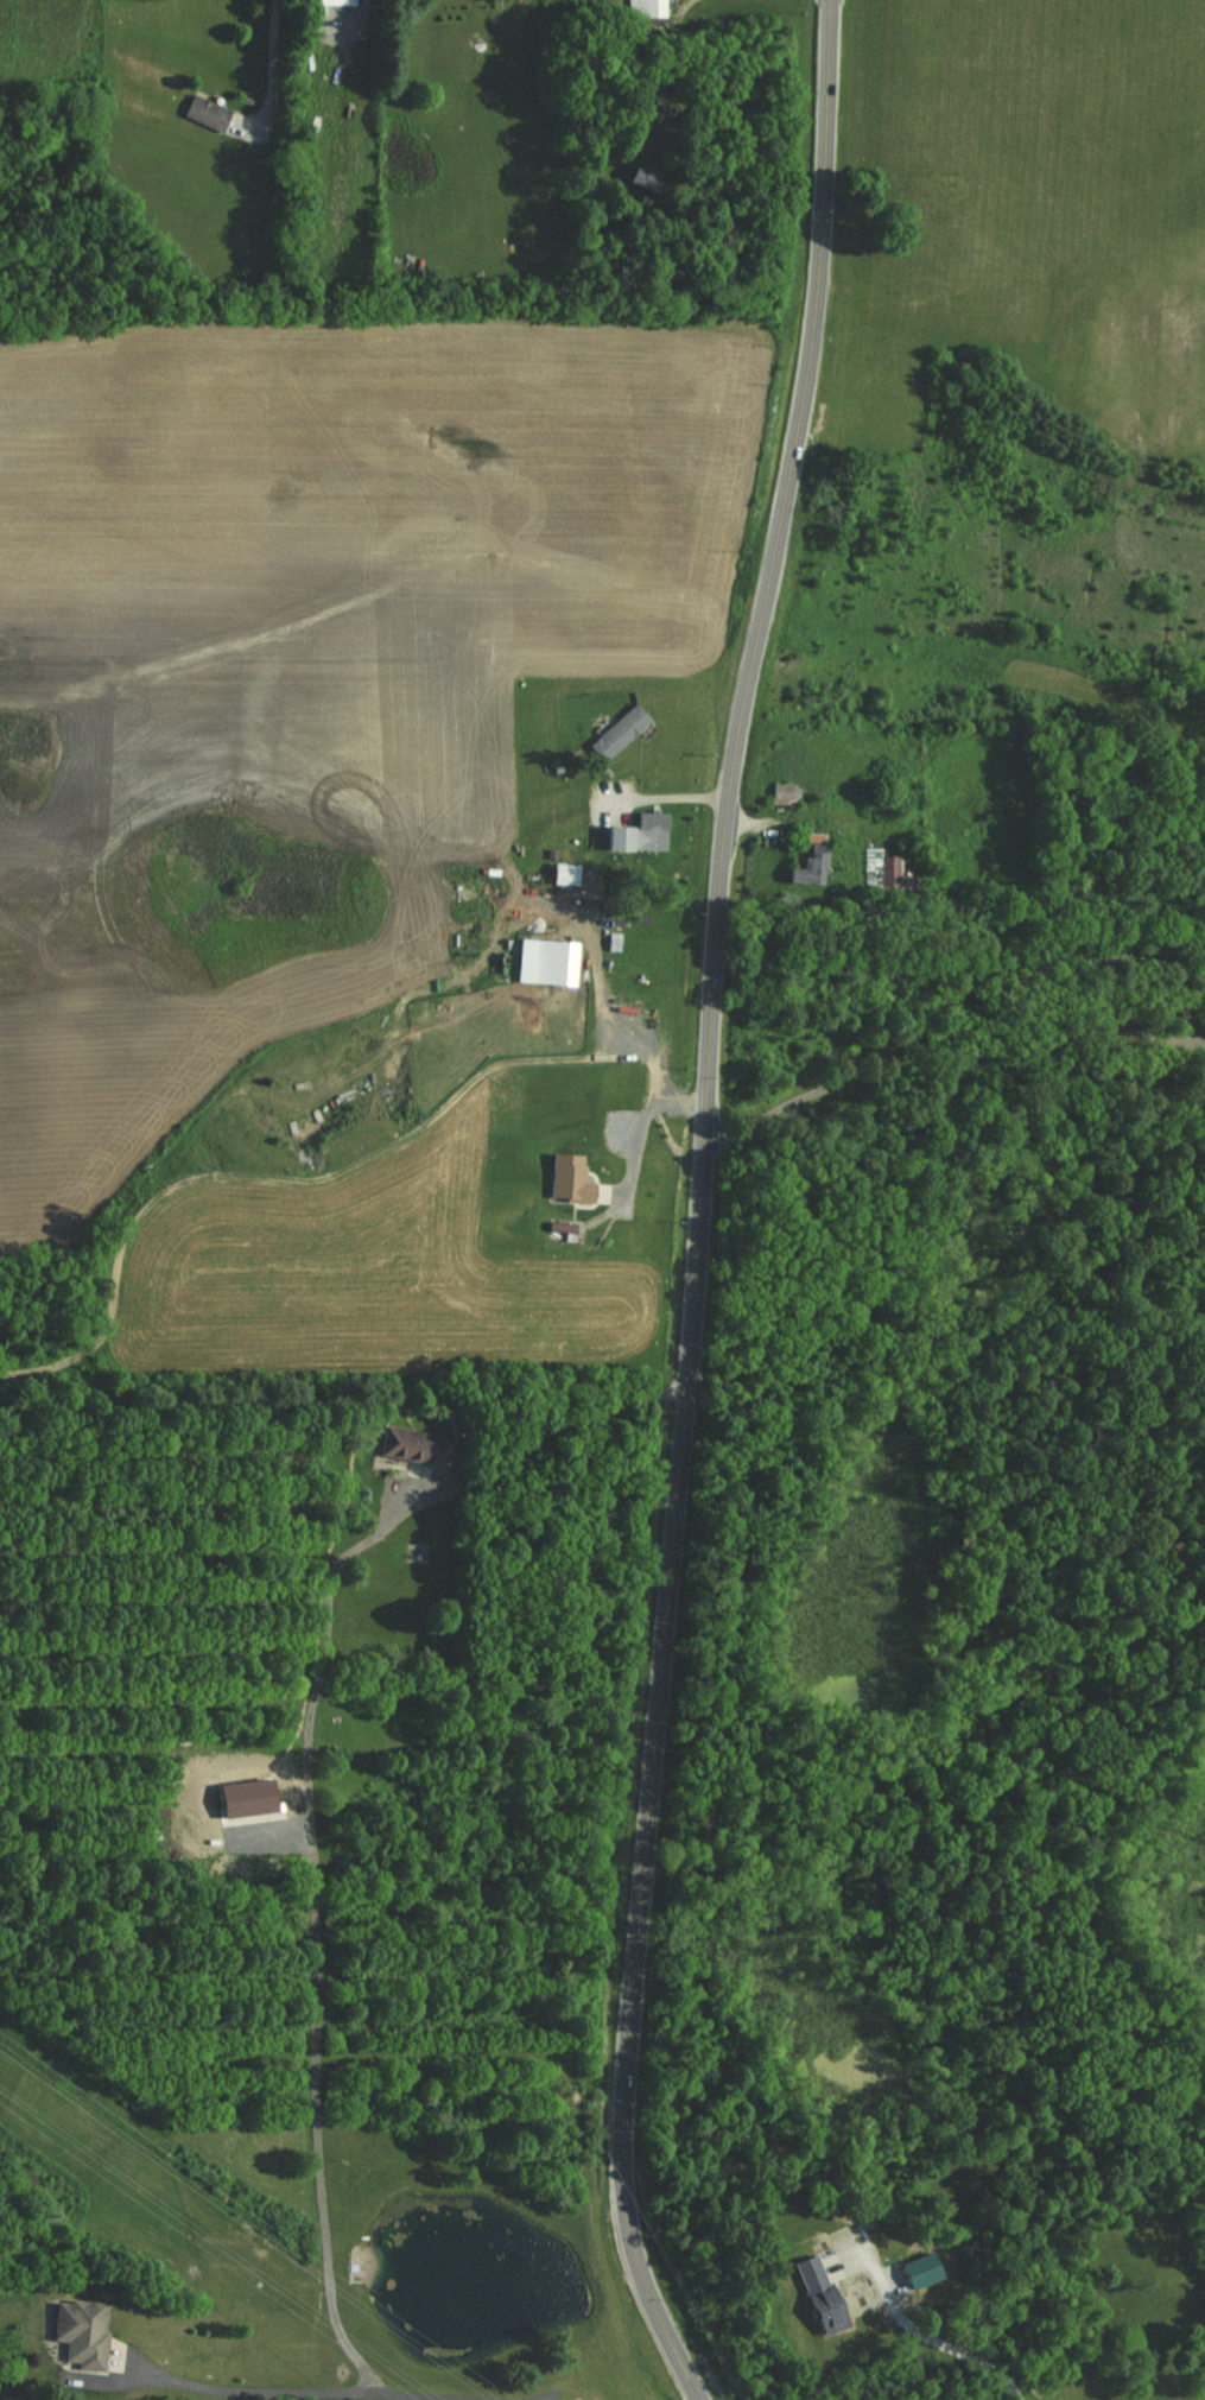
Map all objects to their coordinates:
building: (336, 2)
building: (646, 8)
road: (666, 62)
road: (277, 64)
building: (204, 113)
building: (641, 178)
building: (617, 733)
road: (677, 790)
building: (785, 794)
road: (754, 817)
building: (647, 830)
building: (808, 860)
building: (563, 873)
building: (894, 873)
building: (548, 912)
road: (959, 988)
road: (698, 1204)
building: (412, 1445)
road: (318, 1930)
building: (817, 2295)
building: (77, 2332)
road: (950, 2338)
road: (341, 2386)

